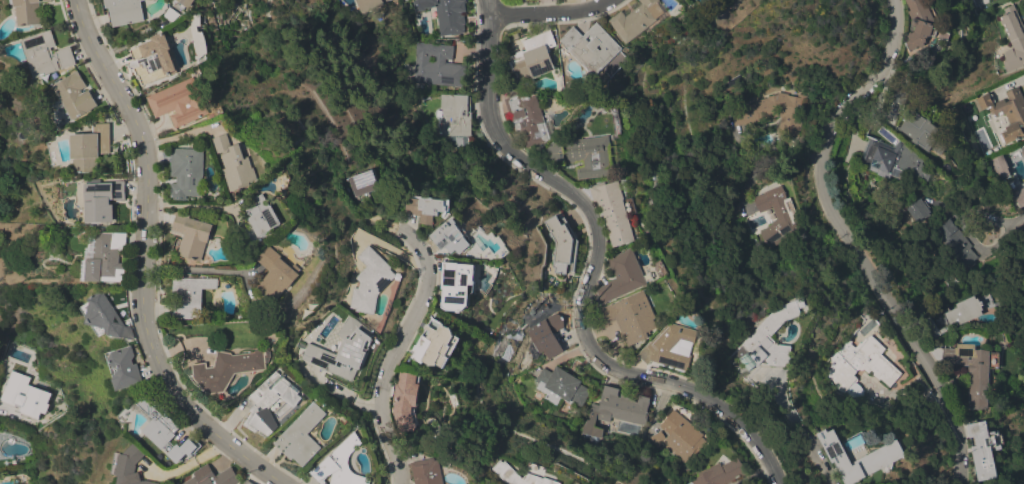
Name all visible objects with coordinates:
building: (990, 1)
building: (183, 3)
building: (370, 4)
building: (122, 11)
building: (28, 12)
road: (546, 12)
building: (171, 15)
building: (446, 15)
building: (639, 18)
building: (920, 24)
building: (1013, 39)
building: (591, 48)
building: (46, 55)
building: (533, 57)
building: (154, 60)
building: (437, 66)
road: (1010, 84)
building: (75, 96)
building: (899, 96)
building: (180, 103)
building: (773, 111)
building: (1007, 113)
building: (455, 116)
building: (528, 120)
building: (922, 132)
building: (91, 148)
building: (1022, 152)
building: (583, 156)
building: (891, 159)
building: (235, 164)
building: (1000, 166)
building: (186, 173)
building: (654, 176)
building: (364, 183)
building: (1019, 197)
building: (103, 200)
road: (193, 205)
building: (426, 209)
building: (918, 210)
building: (613, 212)
building: (777, 216)
road: (1015, 216)
building: (261, 219)
road: (963, 229)
building: (191, 236)
building: (453, 239)
road: (850, 242)
building: (953, 242)
building: (563, 245)
building: (106, 258)
road: (145, 262)
road: (199, 270)
road: (593, 273)
building: (277, 274)
building: (624, 277)
building: (371, 282)
building: (458, 285)
building: (190, 297)
building: (959, 315)
building: (104, 316)
building: (630, 318)
building: (547, 335)
building: (767, 341)
building: (436, 346)
building: (673, 349)
building: (350, 350)
road: (400, 350)
building: (860, 366)
building: (125, 368)
building: (228, 369)
building: (974, 371)
building: (560, 390)
building: (23, 396)
building: (405, 402)
building: (270, 403)
building: (615, 410)
road: (7, 411)
building: (158, 426)
road: (800, 433)
building: (301, 436)
building: (679, 437)
building: (983, 450)
building: (881, 459)
building: (341, 465)
building: (130, 466)
building: (427, 471)
building: (720, 473)
building: (517, 476)
building: (213, 477)
building: (248, 482)
building: (244, 483)

